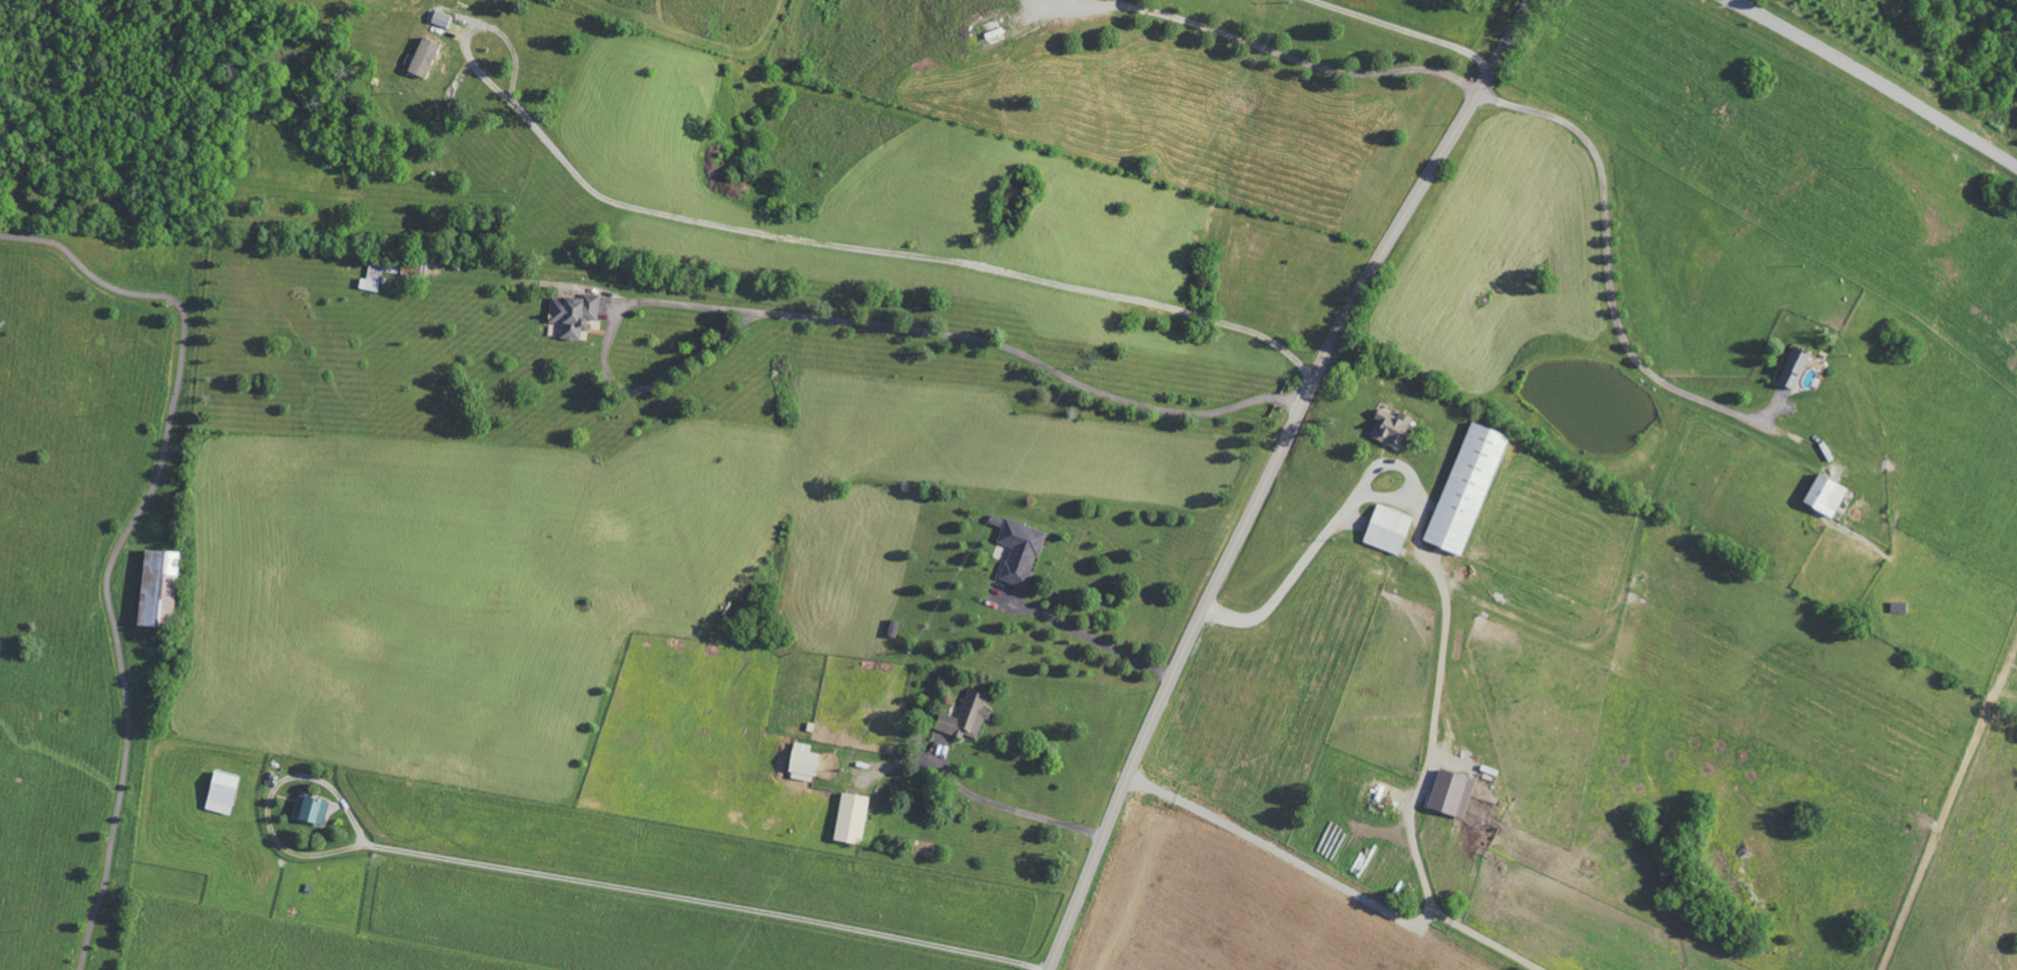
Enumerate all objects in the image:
building: (439, 19)
road: (1405, 31)
road: (1281, 54)
building: (421, 56)
road: (1874, 80)
road: (1607, 253)
road: (881, 254)
building: (370, 278)
building: (572, 313)
road: (837, 319)
building: (1792, 368)
building: (1389, 427)
road: (1270, 474)
building: (1464, 488)
building: (1823, 495)
road: (1335, 523)
building: (1386, 529)
road: (124, 537)
building: (1019, 551)
park: (87, 564)
building: (154, 587)
road: (1090, 637)
building: (964, 717)
building: (801, 762)
building: (219, 792)
building: (1449, 794)
road: (1011, 809)
building: (308, 810)
building: (849, 819)
road: (681, 898)

